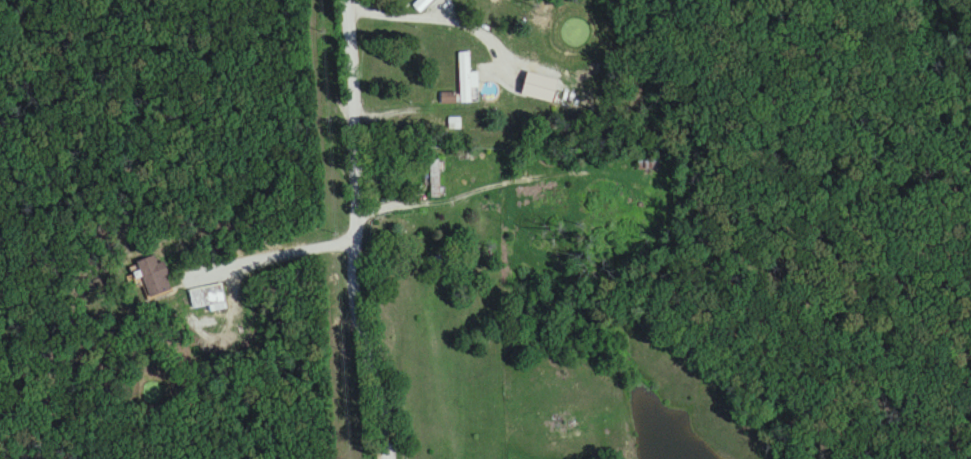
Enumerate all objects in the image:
building: (421, 4)
building: (538, 87)
building: (454, 105)
building: (648, 162)
building: (435, 178)
road: (500, 186)
road: (356, 230)
building: (154, 277)
road: (160, 293)
building: (207, 298)

